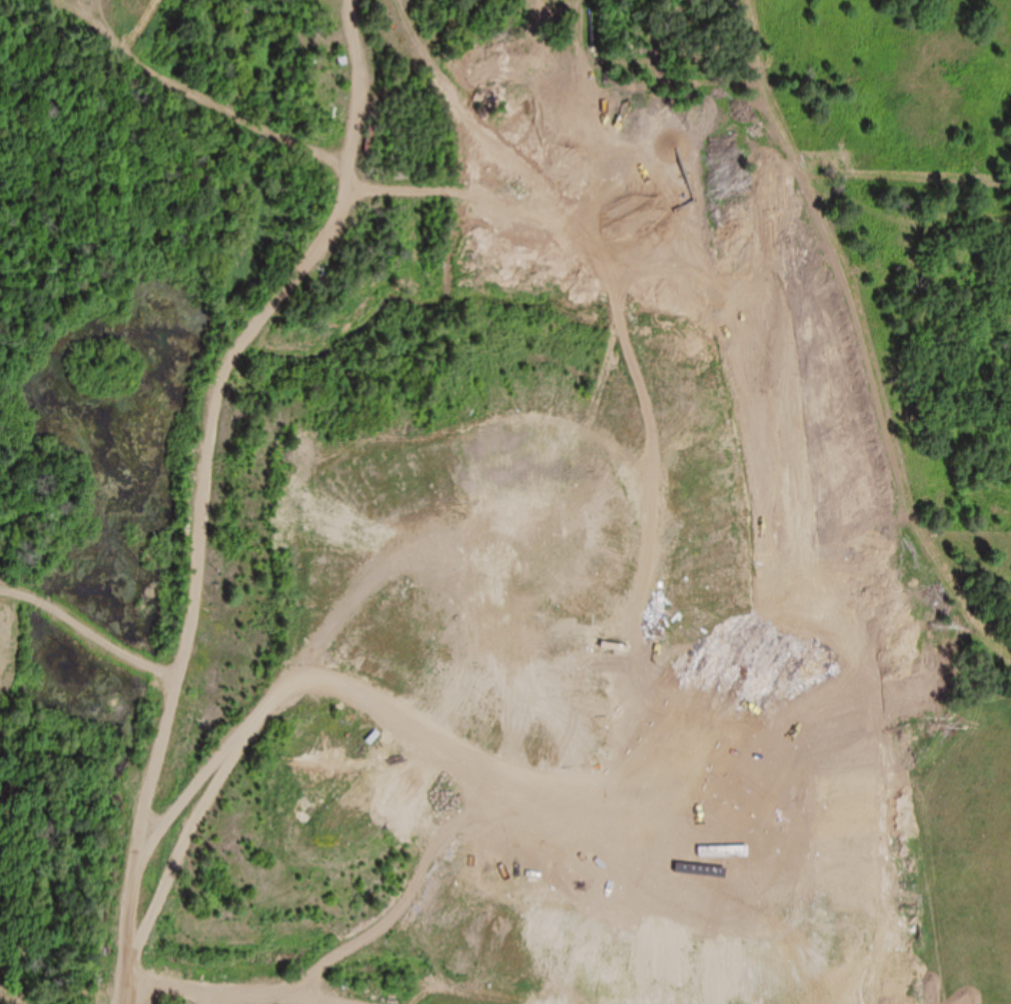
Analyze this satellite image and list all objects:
road: (215, 484)
road: (88, 874)
building: (585, 996)

